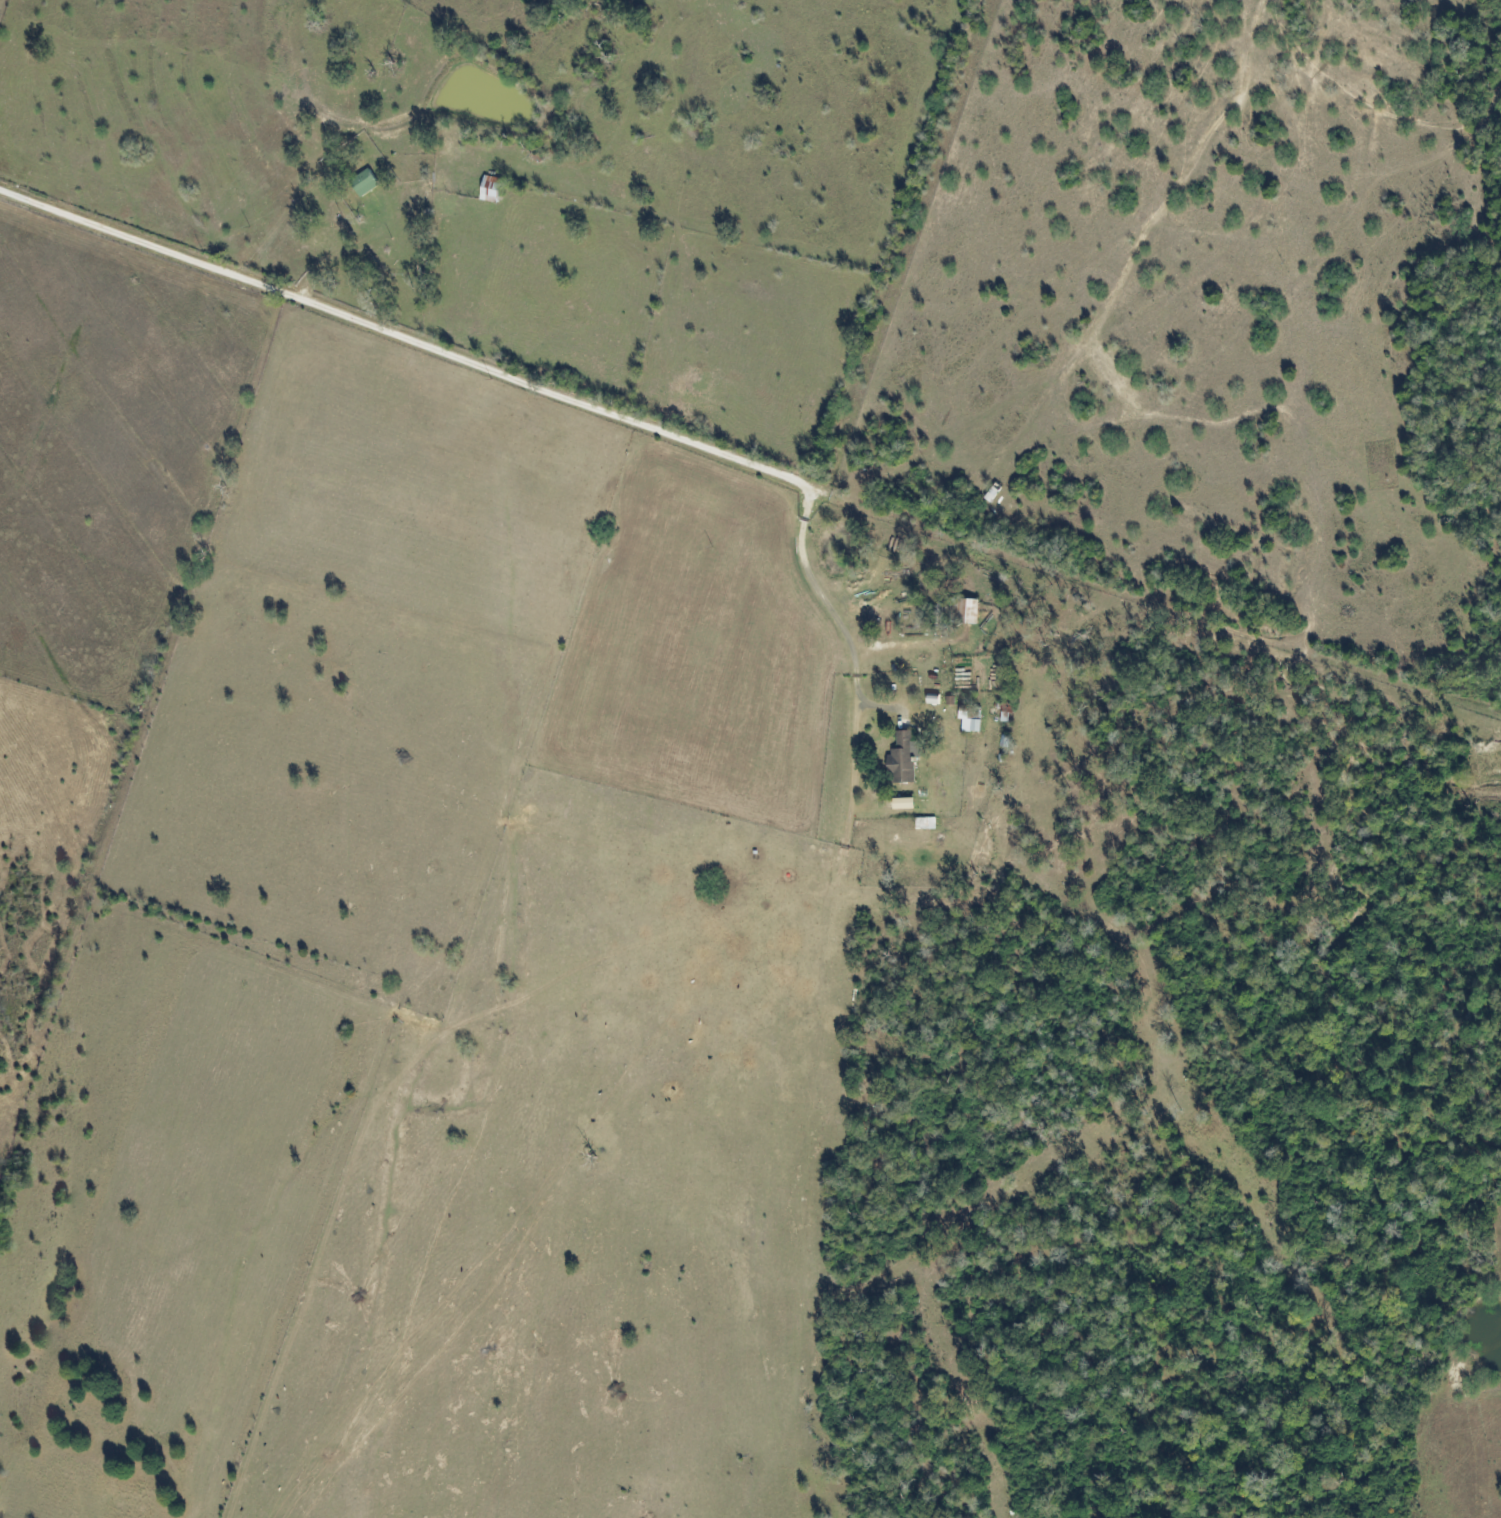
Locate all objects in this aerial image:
building: (366, 184)
building: (494, 187)
road: (389, 340)
building: (973, 613)
building: (977, 726)
building: (904, 758)
building: (905, 804)

